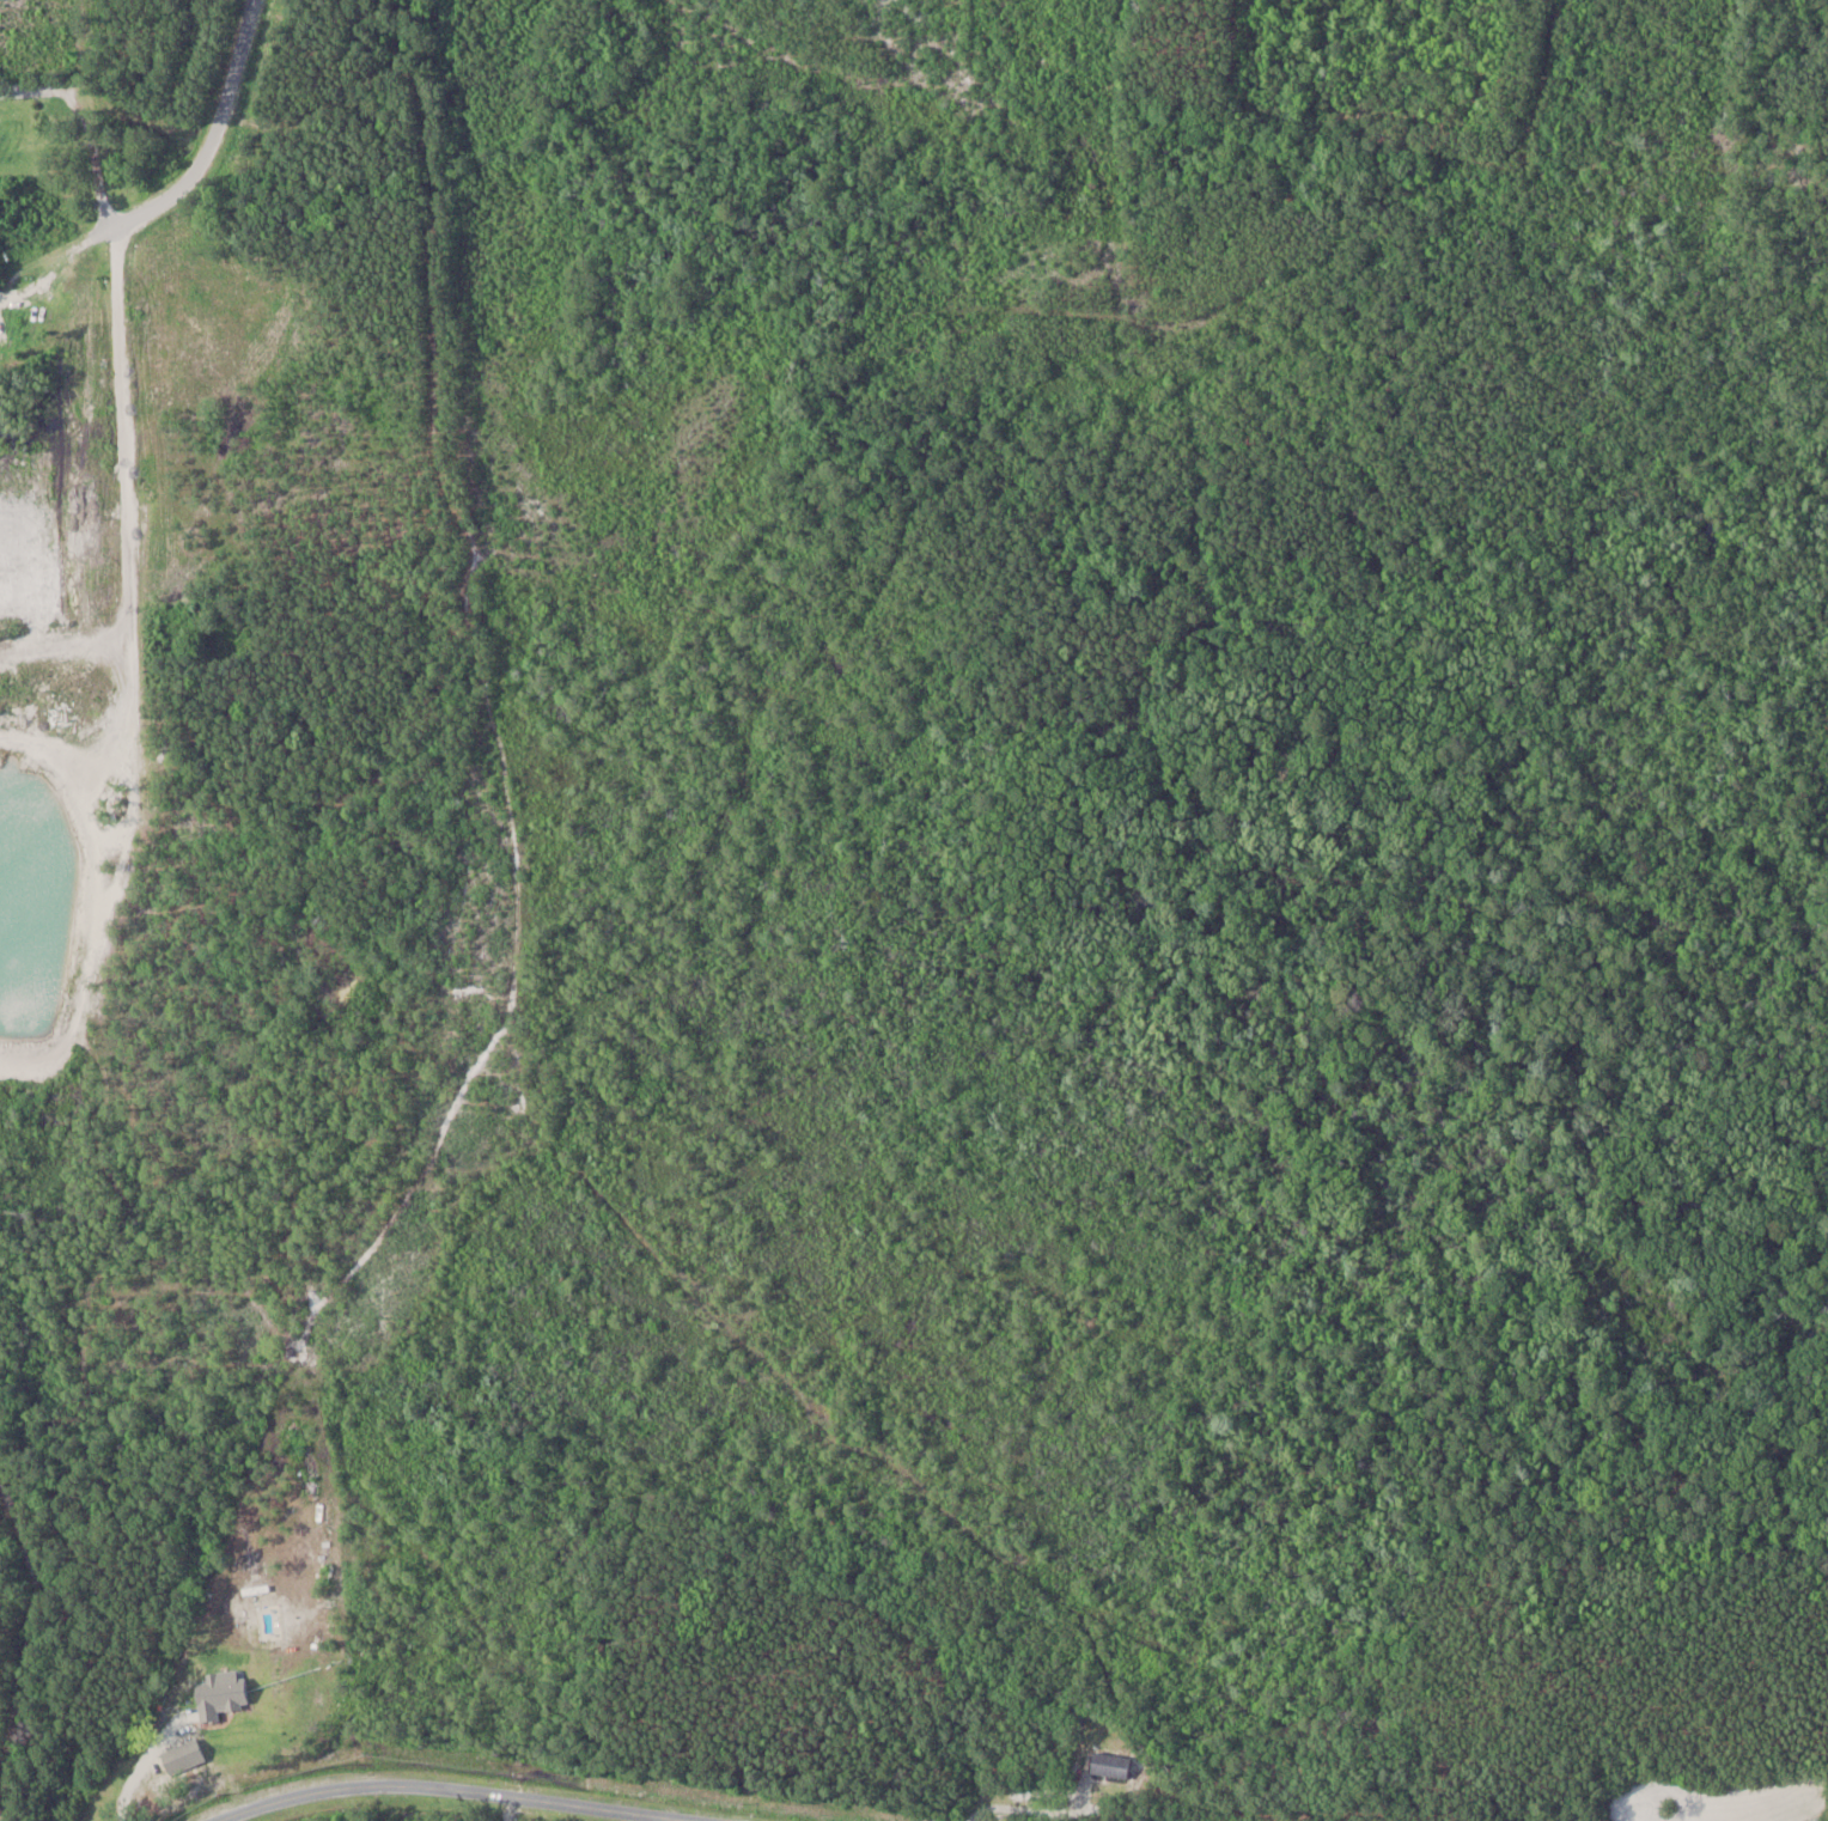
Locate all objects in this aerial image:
road: (494, 0)
road: (85, 127)
road: (202, 160)
building: (43, 220)
building: (1110, 1762)
road: (449, 1791)
building: (100, 1805)

